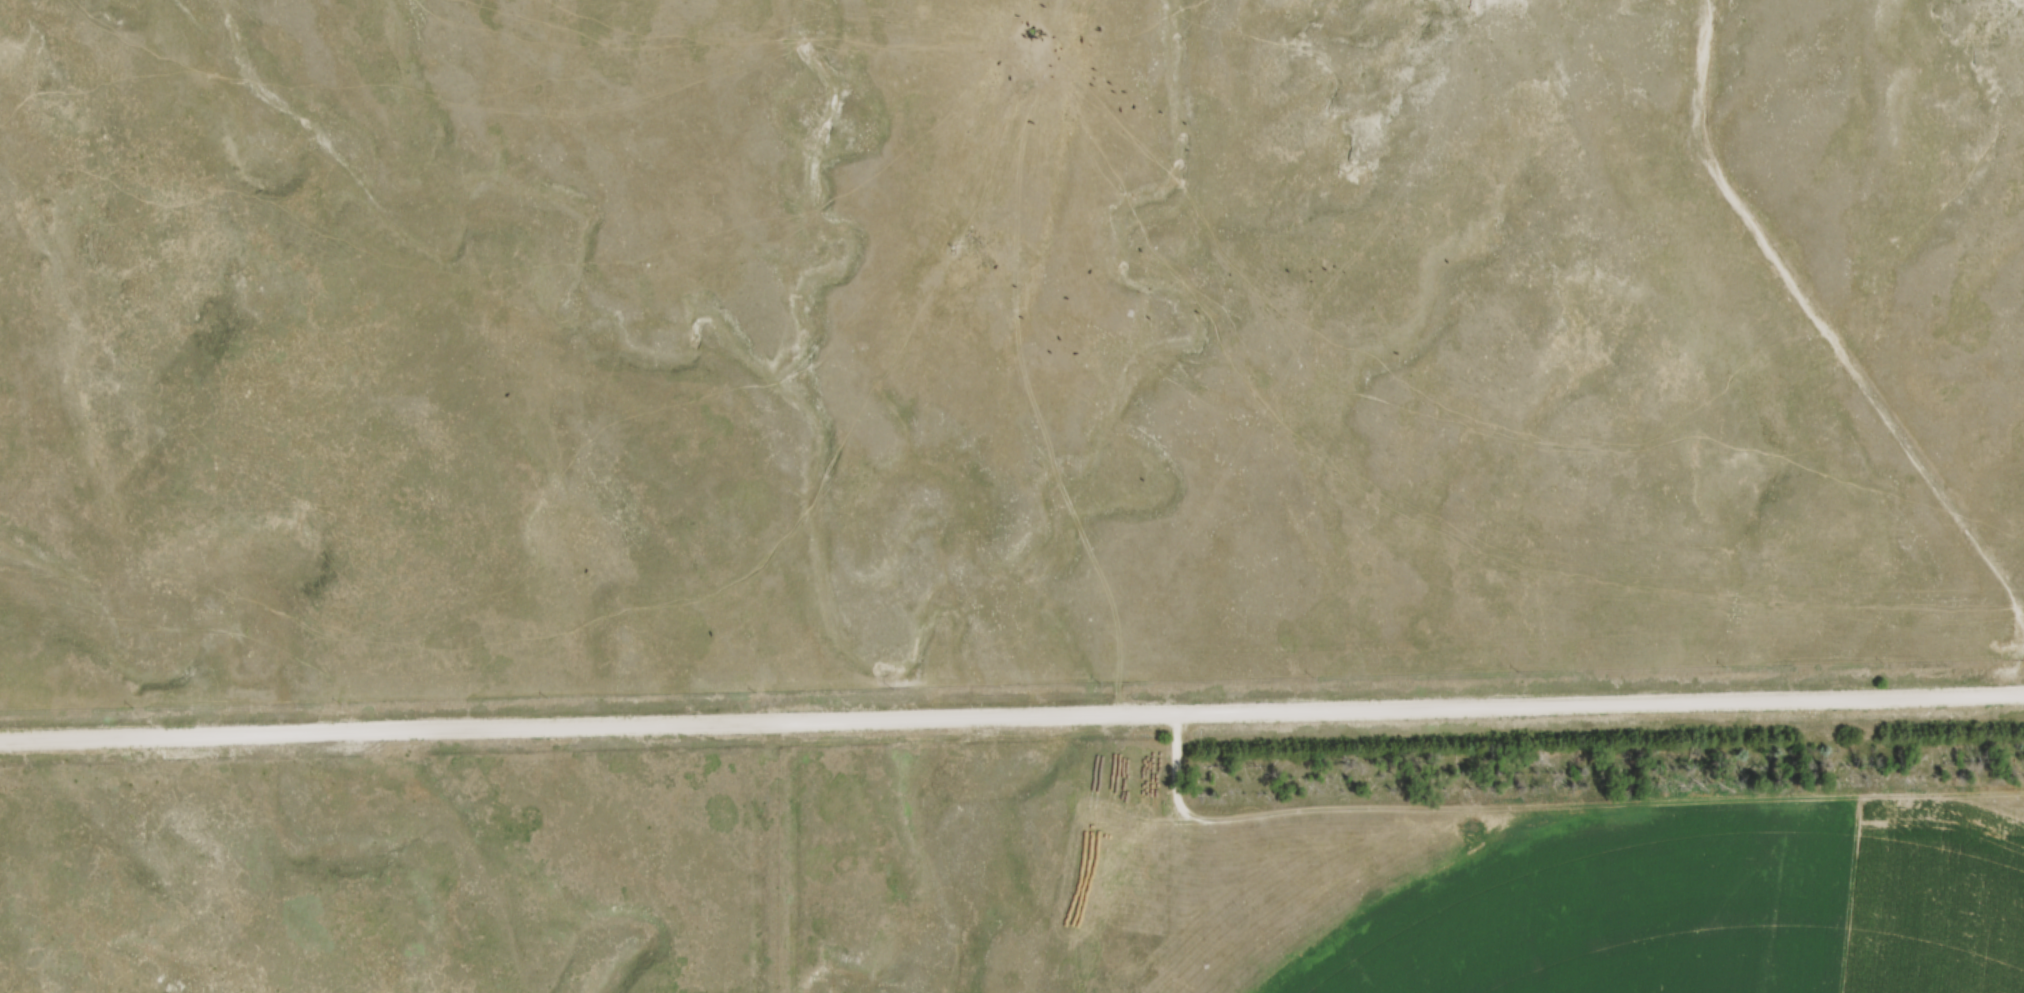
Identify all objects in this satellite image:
road: (1012, 710)

